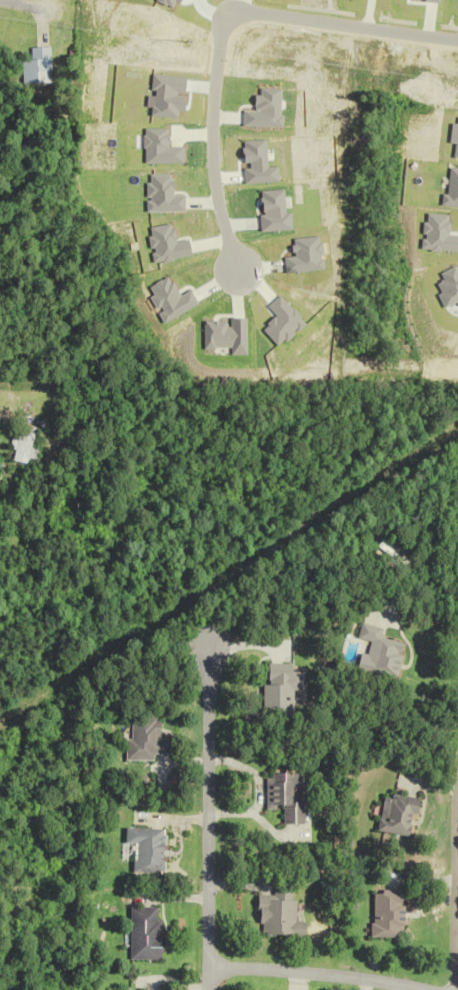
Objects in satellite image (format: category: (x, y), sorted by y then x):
road: (16, 4)
road: (219, 28)
building: (35, 67)
building: (26, 447)
road: (425, 582)
building: (385, 655)
building: (285, 689)
building: (146, 740)
building: (289, 796)
building: (401, 815)
road: (205, 816)
building: (149, 849)
road: (454, 897)
building: (391, 914)
building: (281, 915)
building: (148, 933)
road: (319, 970)

